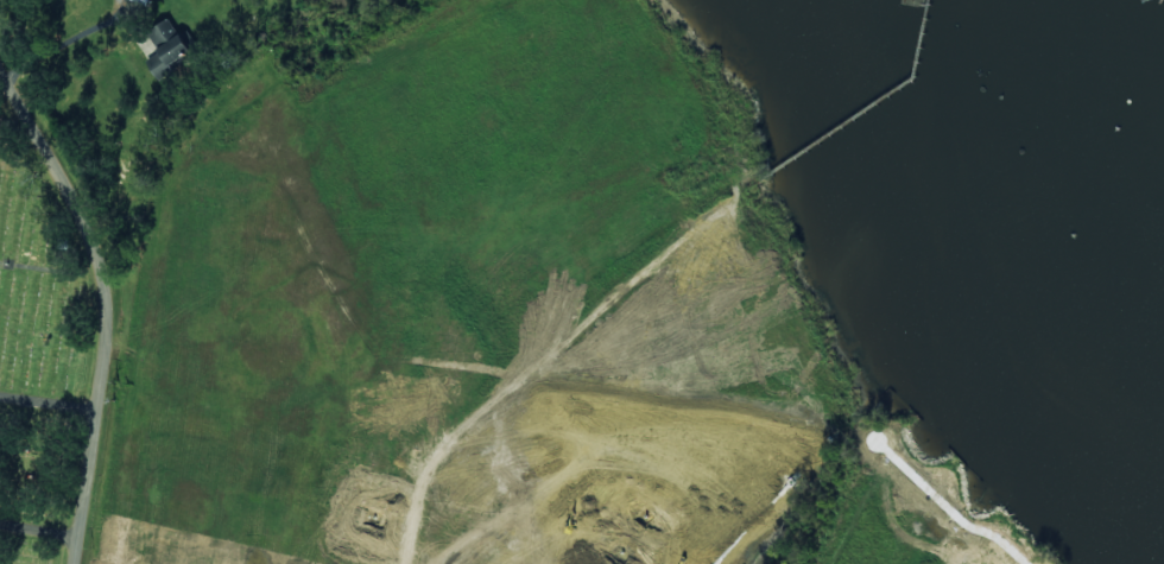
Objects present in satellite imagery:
building: (144, 1)
building: (170, 47)
road: (10, 109)
road: (107, 309)
park: (53, 349)
road: (50, 404)
road: (40, 531)

